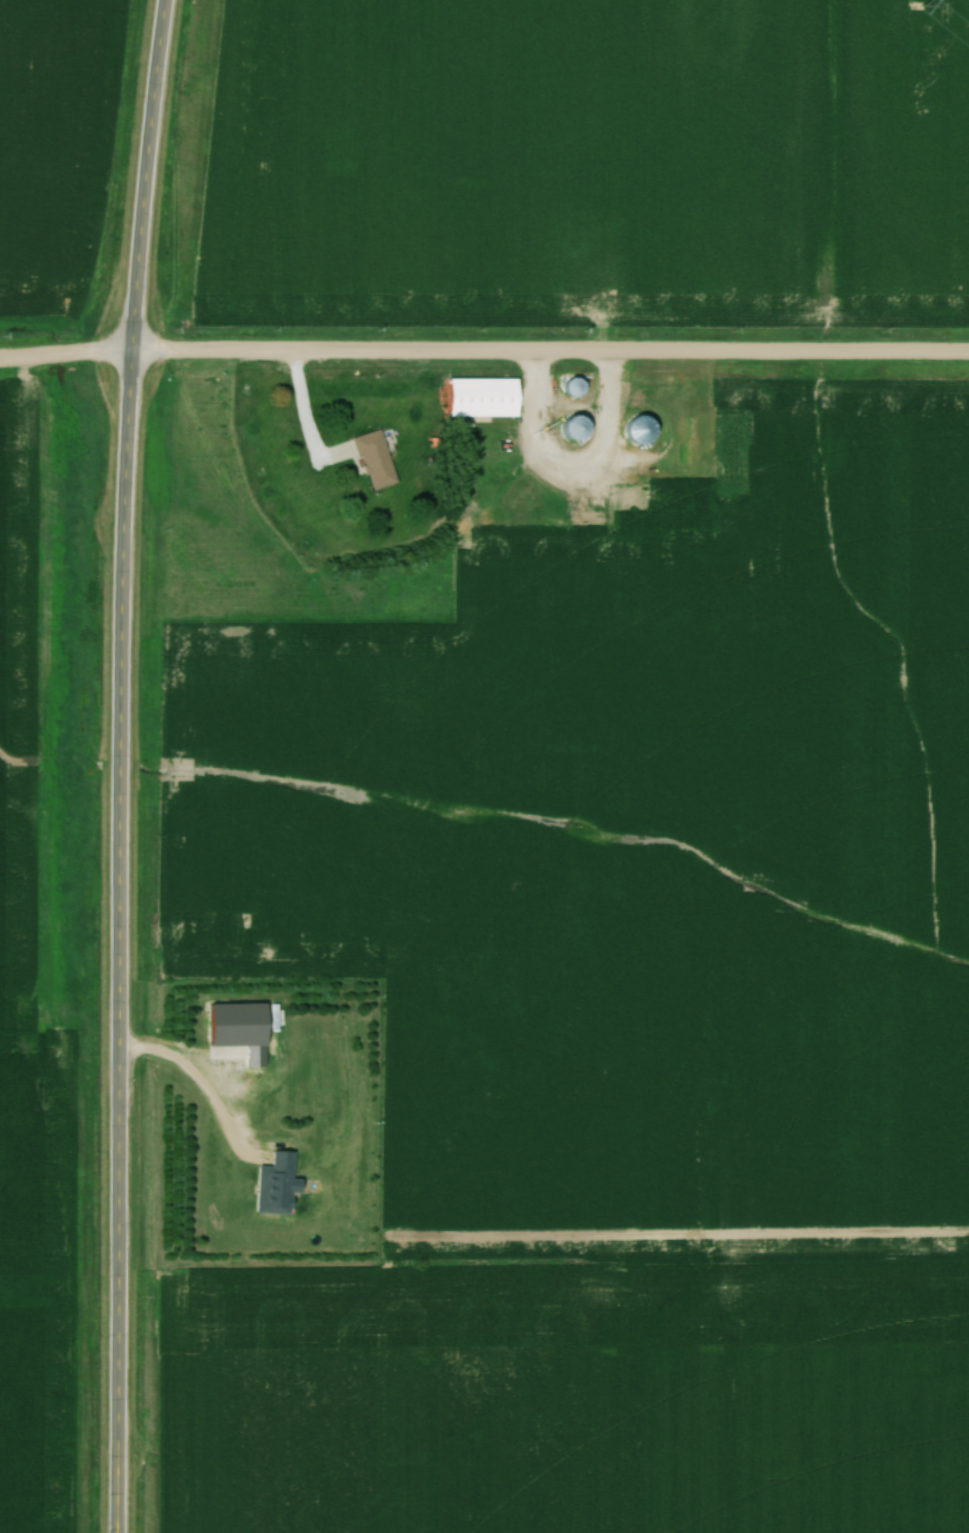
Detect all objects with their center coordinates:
crop: (833, 145)
crop: (454, 158)
road: (484, 353)
building: (579, 388)
building: (486, 398)
road: (307, 416)
building: (580, 429)
building: (644, 432)
building: (377, 461)
road: (122, 765)
building: (280, 1187)

